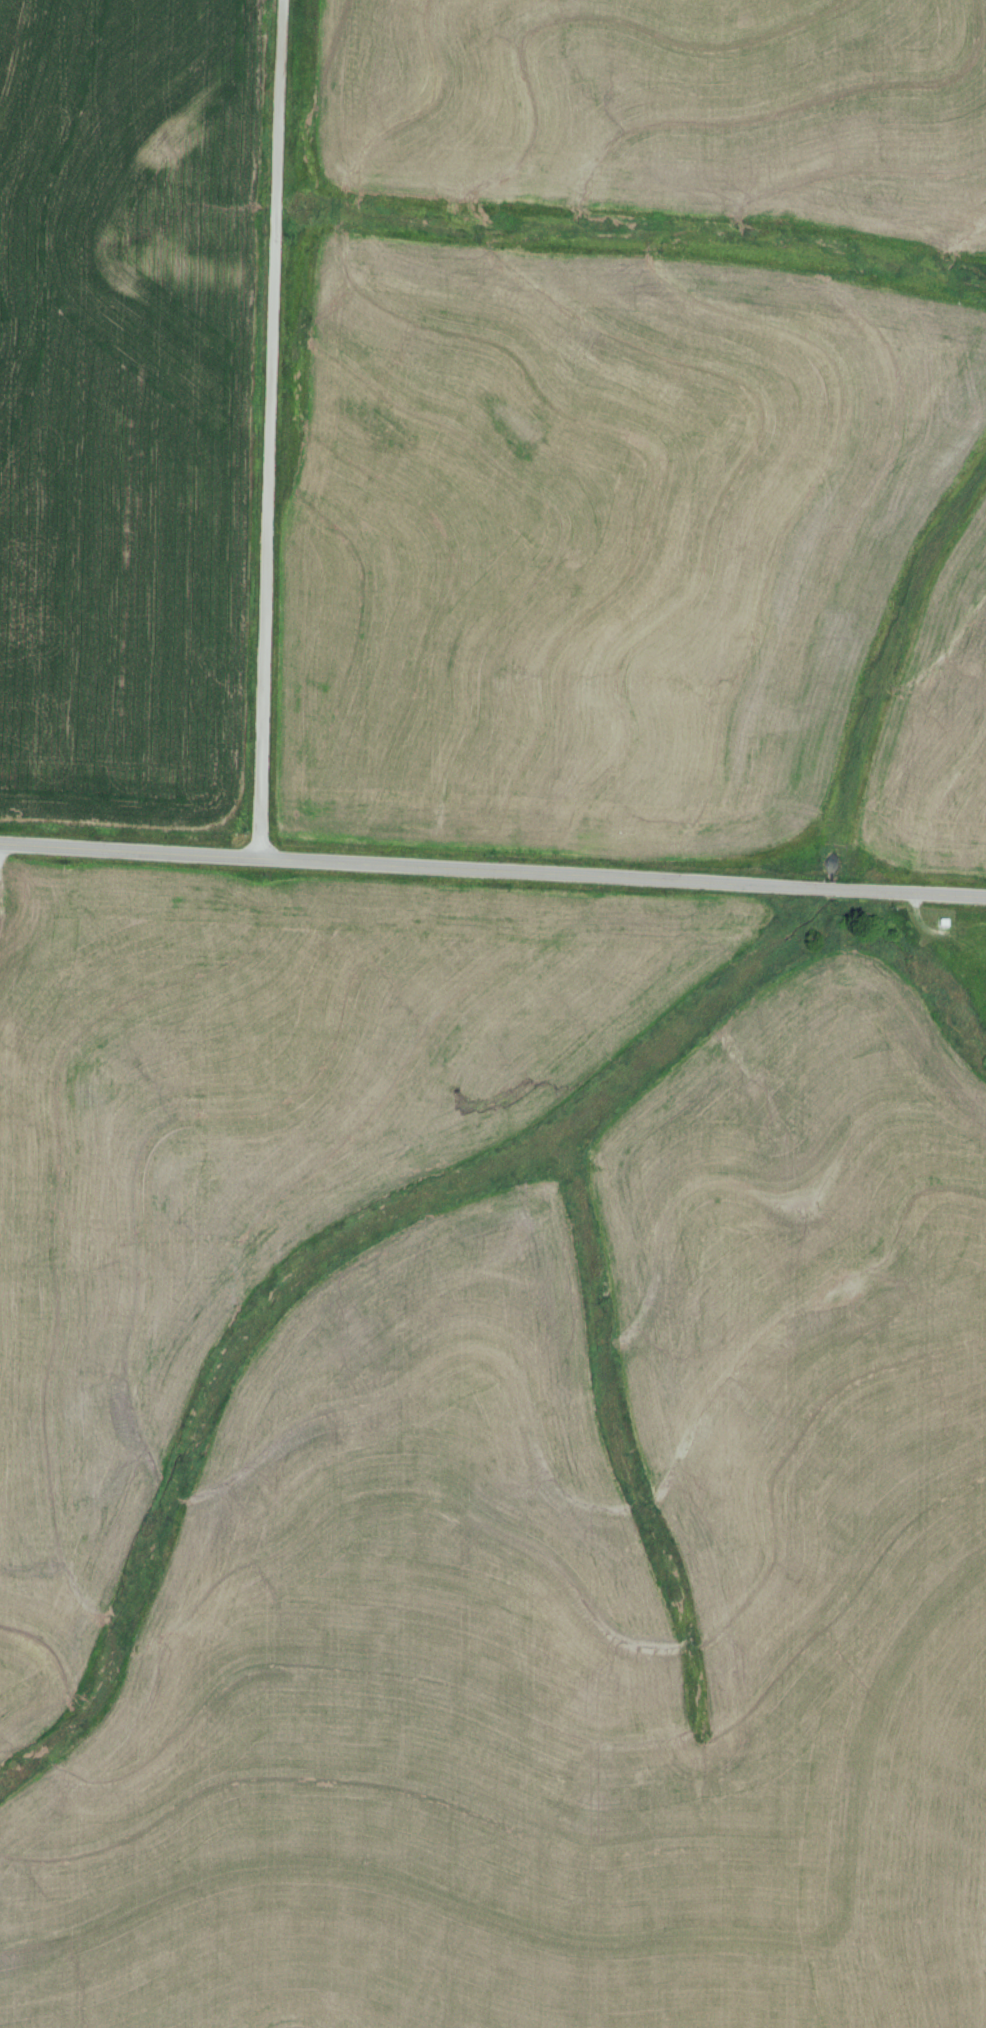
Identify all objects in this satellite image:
road: (271, 429)
road: (492, 870)

